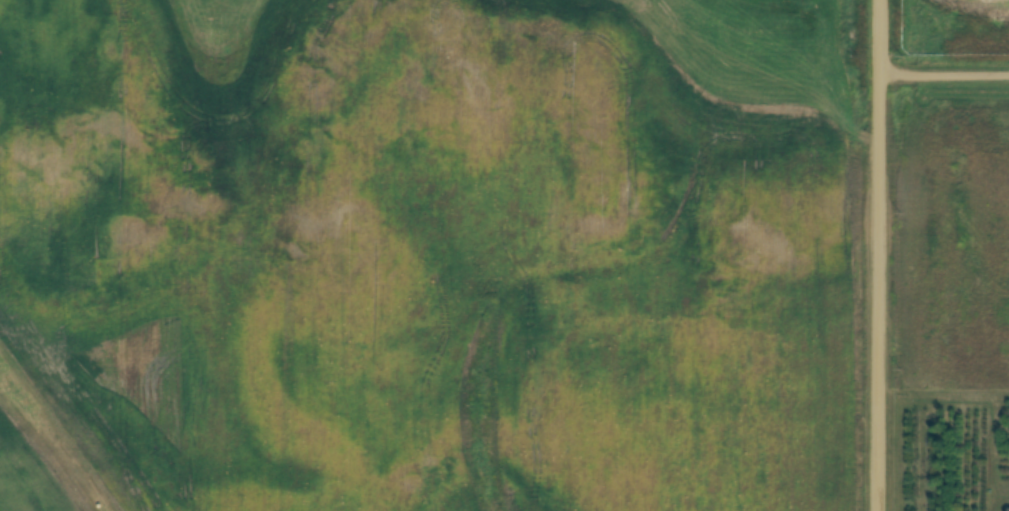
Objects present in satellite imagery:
road: (947, 80)
road: (884, 255)

